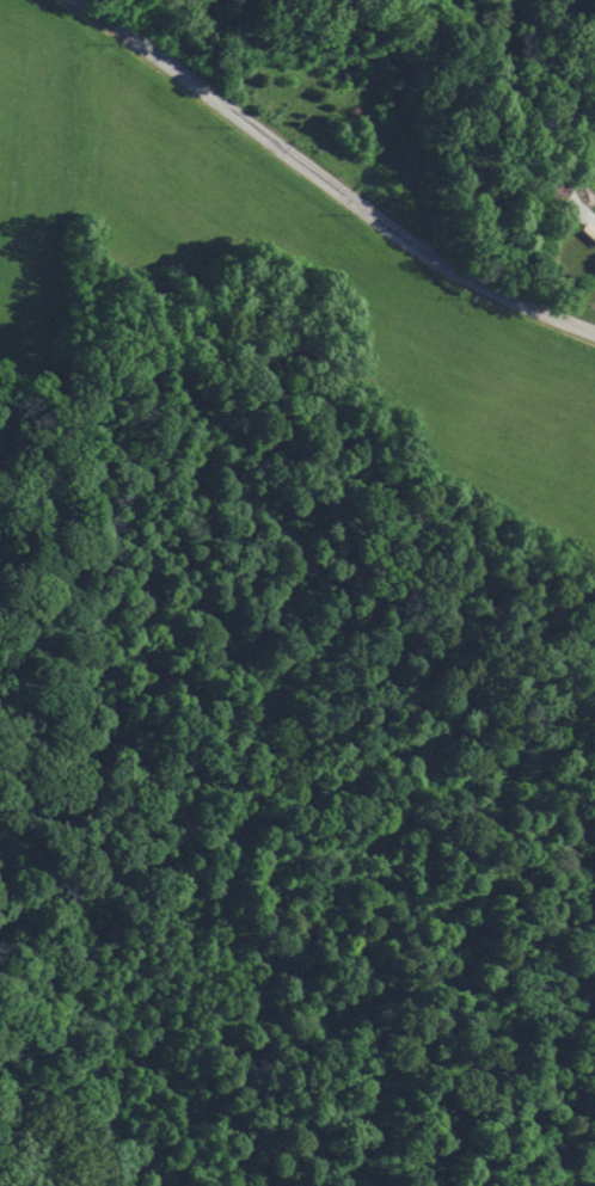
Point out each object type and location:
road: (333, 178)

